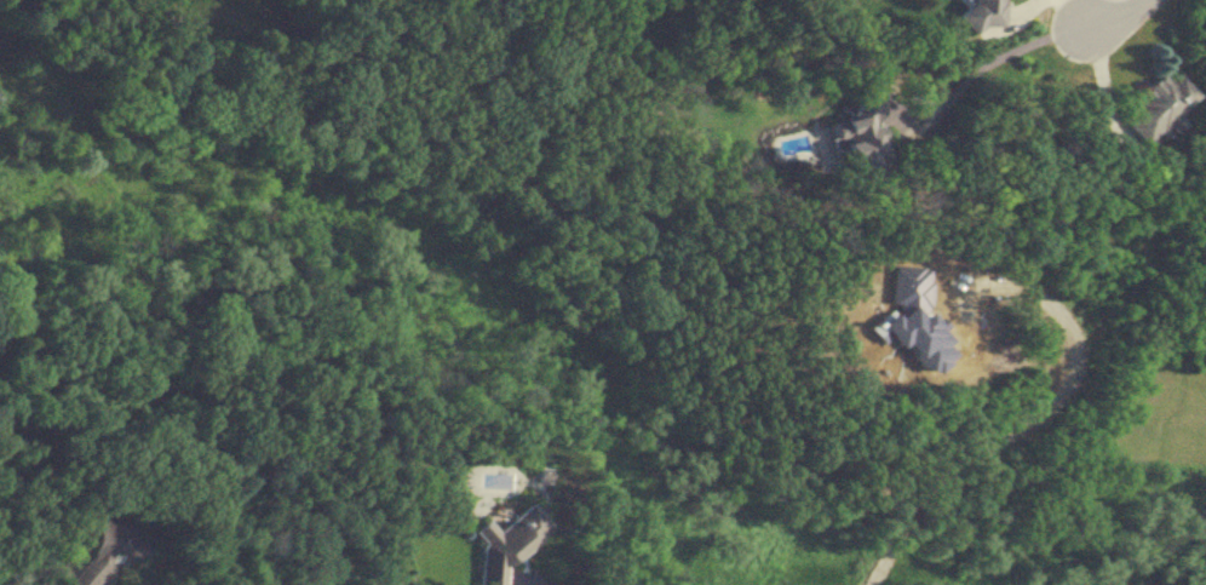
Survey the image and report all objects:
building: (980, 13)
road: (1110, 13)
road: (999, 55)
road: (1101, 79)
building: (1154, 107)
building: (862, 137)
road: (1038, 424)
building: (506, 543)
building: (107, 549)
road: (530, 584)

